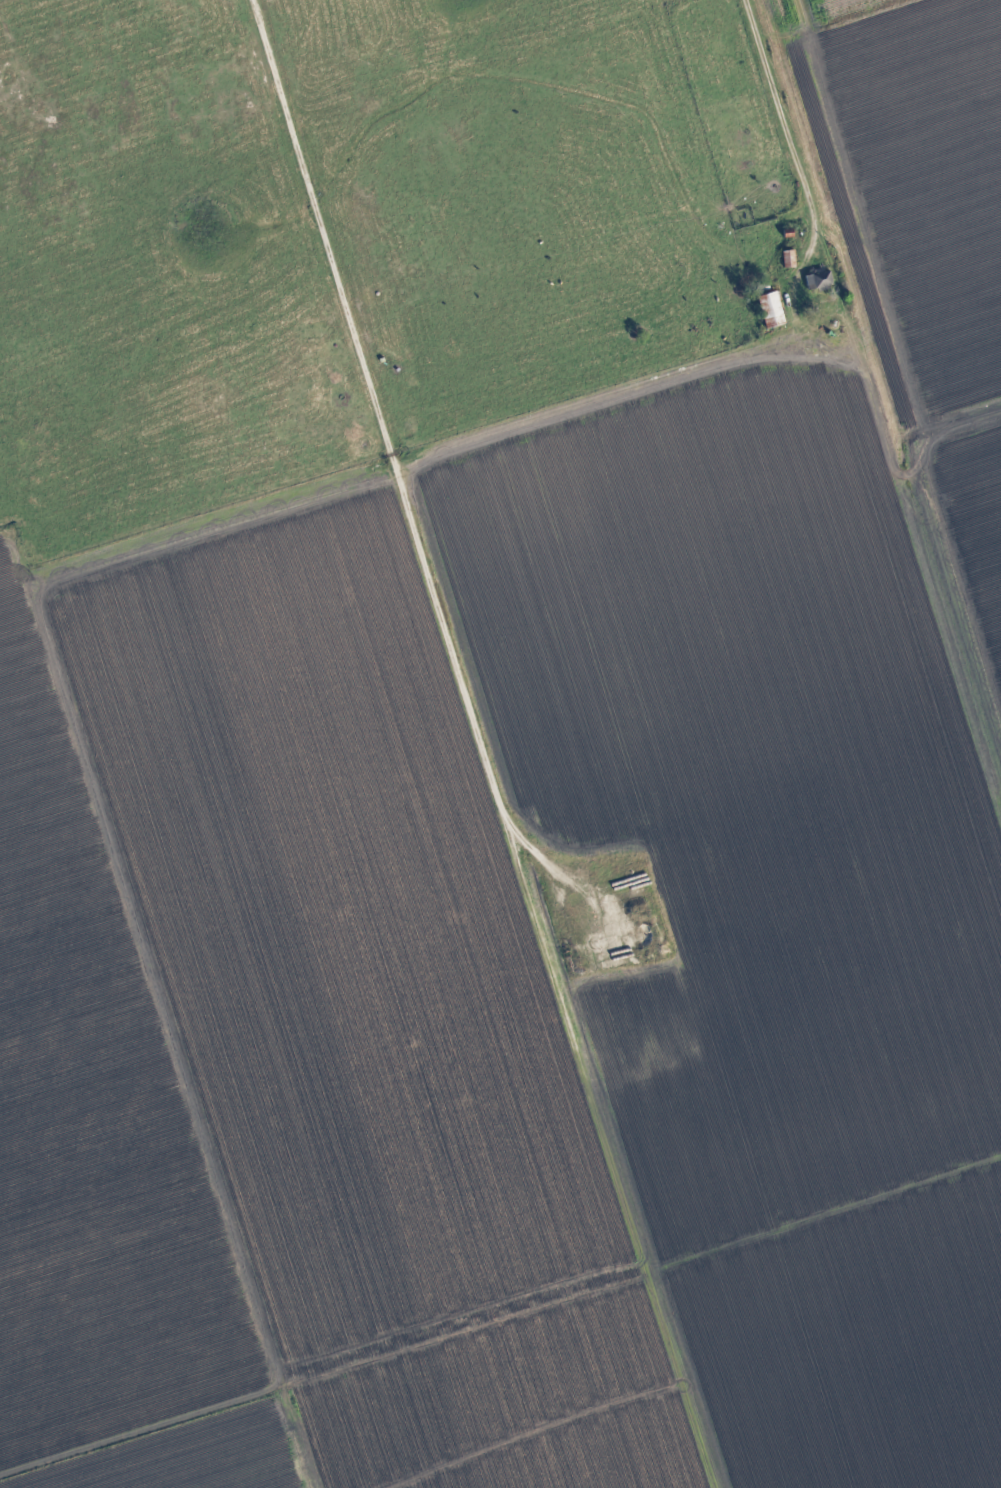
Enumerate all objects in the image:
road: (261, 36)
road: (790, 126)

